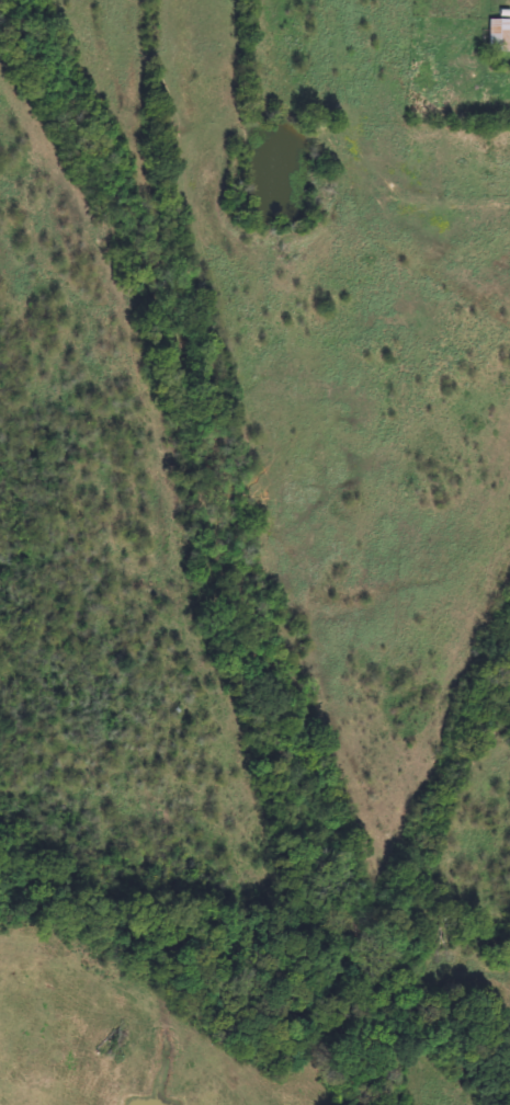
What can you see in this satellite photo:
building: (500, 35)

